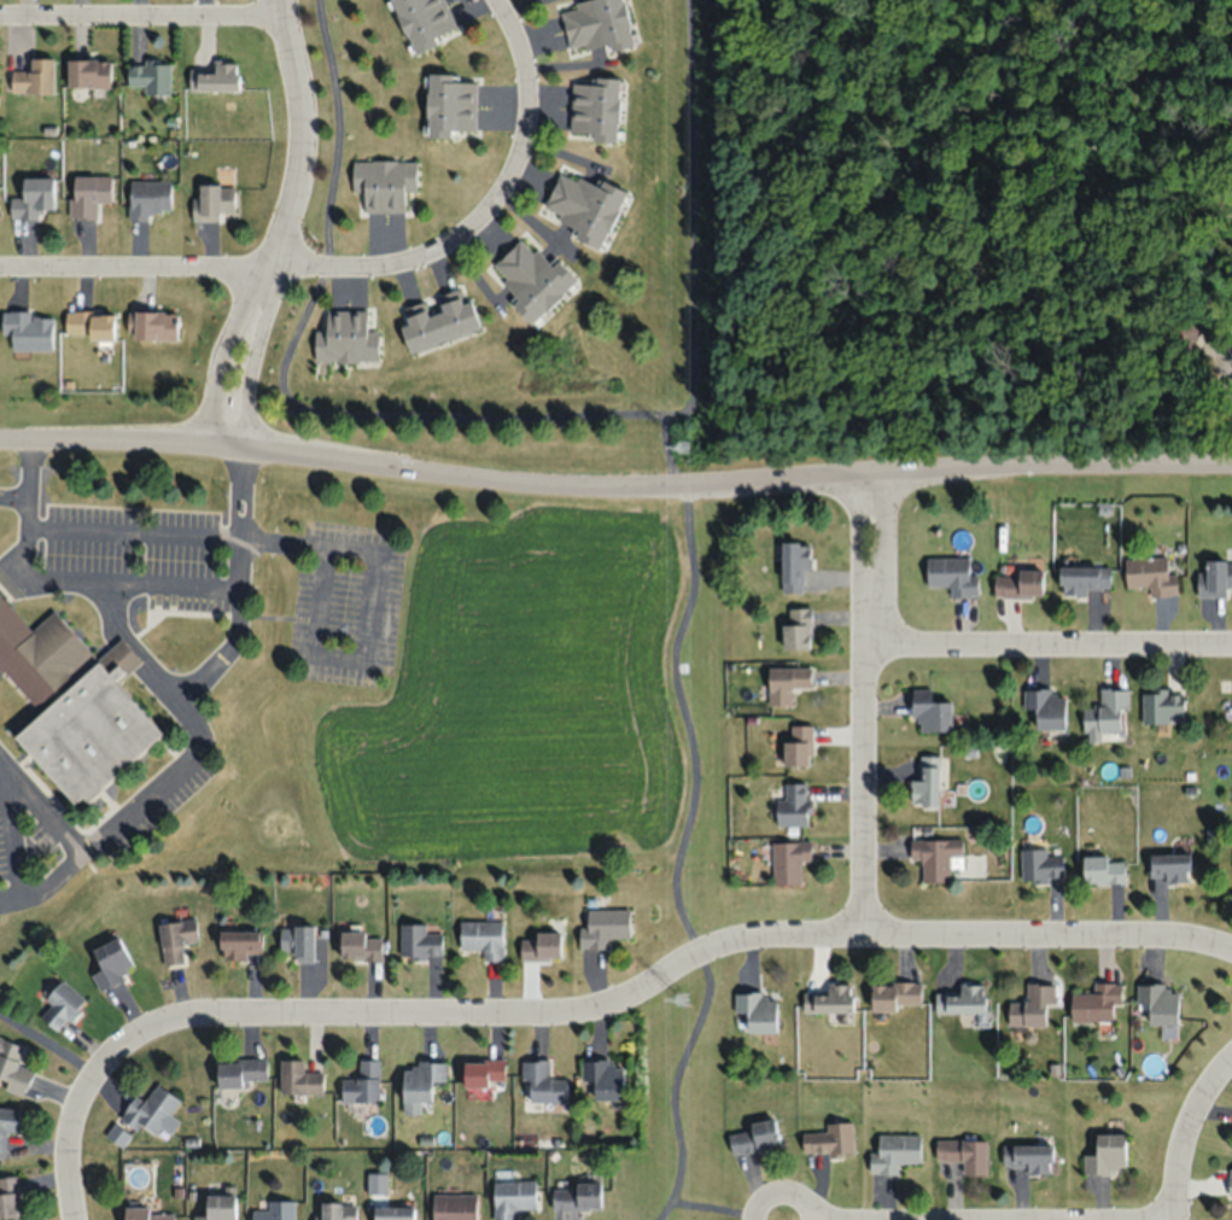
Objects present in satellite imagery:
road: (140, 13)
building: (416, 21)
building: (594, 24)
building: (88, 74)
building: (150, 76)
building: (34, 77)
building: (212, 77)
building: (448, 105)
building: (597, 109)
road: (514, 144)
building: (383, 182)
building: (88, 193)
building: (33, 197)
building: (147, 198)
building: (211, 200)
building: (584, 210)
road: (281, 229)
road: (209, 265)
building: (526, 281)
building: (437, 320)
building: (89, 323)
building: (154, 325)
building: (28, 329)
building: (344, 338)
power tower: (685, 448)
road: (241, 477)
road: (614, 490)
road: (239, 496)
road: (98, 531)
building: (794, 565)
building: (952, 576)
building: (1150, 576)
building: (1085, 578)
building: (1215, 578)
road: (41, 580)
road: (168, 583)
building: (1020, 583)
road: (373, 595)
building: (796, 629)
road: (1046, 648)
building: (786, 683)
building: (72, 702)
road: (860, 706)
building: (1046, 706)
building: (1162, 706)
building: (932, 712)
building: (1105, 713)
building: (798, 746)
building: (926, 782)
road: (39, 805)
building: (794, 805)
road: (123, 812)
building: (935, 857)
building: (789, 860)
building: (1040, 865)
building: (1169, 866)
building: (1103, 869)
building: (603, 926)
building: (481, 938)
building: (175, 939)
building: (297, 941)
building: (419, 941)
building: (237, 944)
building: (360, 945)
building: (539, 946)
building: (110, 963)
road: (654, 979)
building: (895, 996)
power tower: (682, 997)
building: (829, 998)
building: (962, 999)
building: (1160, 1000)
building: (1096, 1002)
building: (60, 1004)
building: (1032, 1005)
building: (758, 1010)
road: (43, 1040)
building: (12, 1069)
building: (240, 1072)
building: (483, 1074)
building: (298, 1078)
building: (605, 1078)
building: (362, 1082)
building: (541, 1082)
building: (419, 1084)
building: (150, 1110)
building: (7, 1125)
building: (754, 1137)
building: (829, 1139)
road: (1189, 1139)
road: (69, 1145)
building: (894, 1152)
building: (964, 1154)
building: (1107, 1154)
building: (1027, 1157)
building: (1230, 1181)
building: (576, 1196)
building: (8, 1197)
building: (512, 1197)
building: (217, 1207)
building: (452, 1207)
building: (274, 1210)
building: (334, 1210)
building: (391, 1213)
building: (145, 1214)

